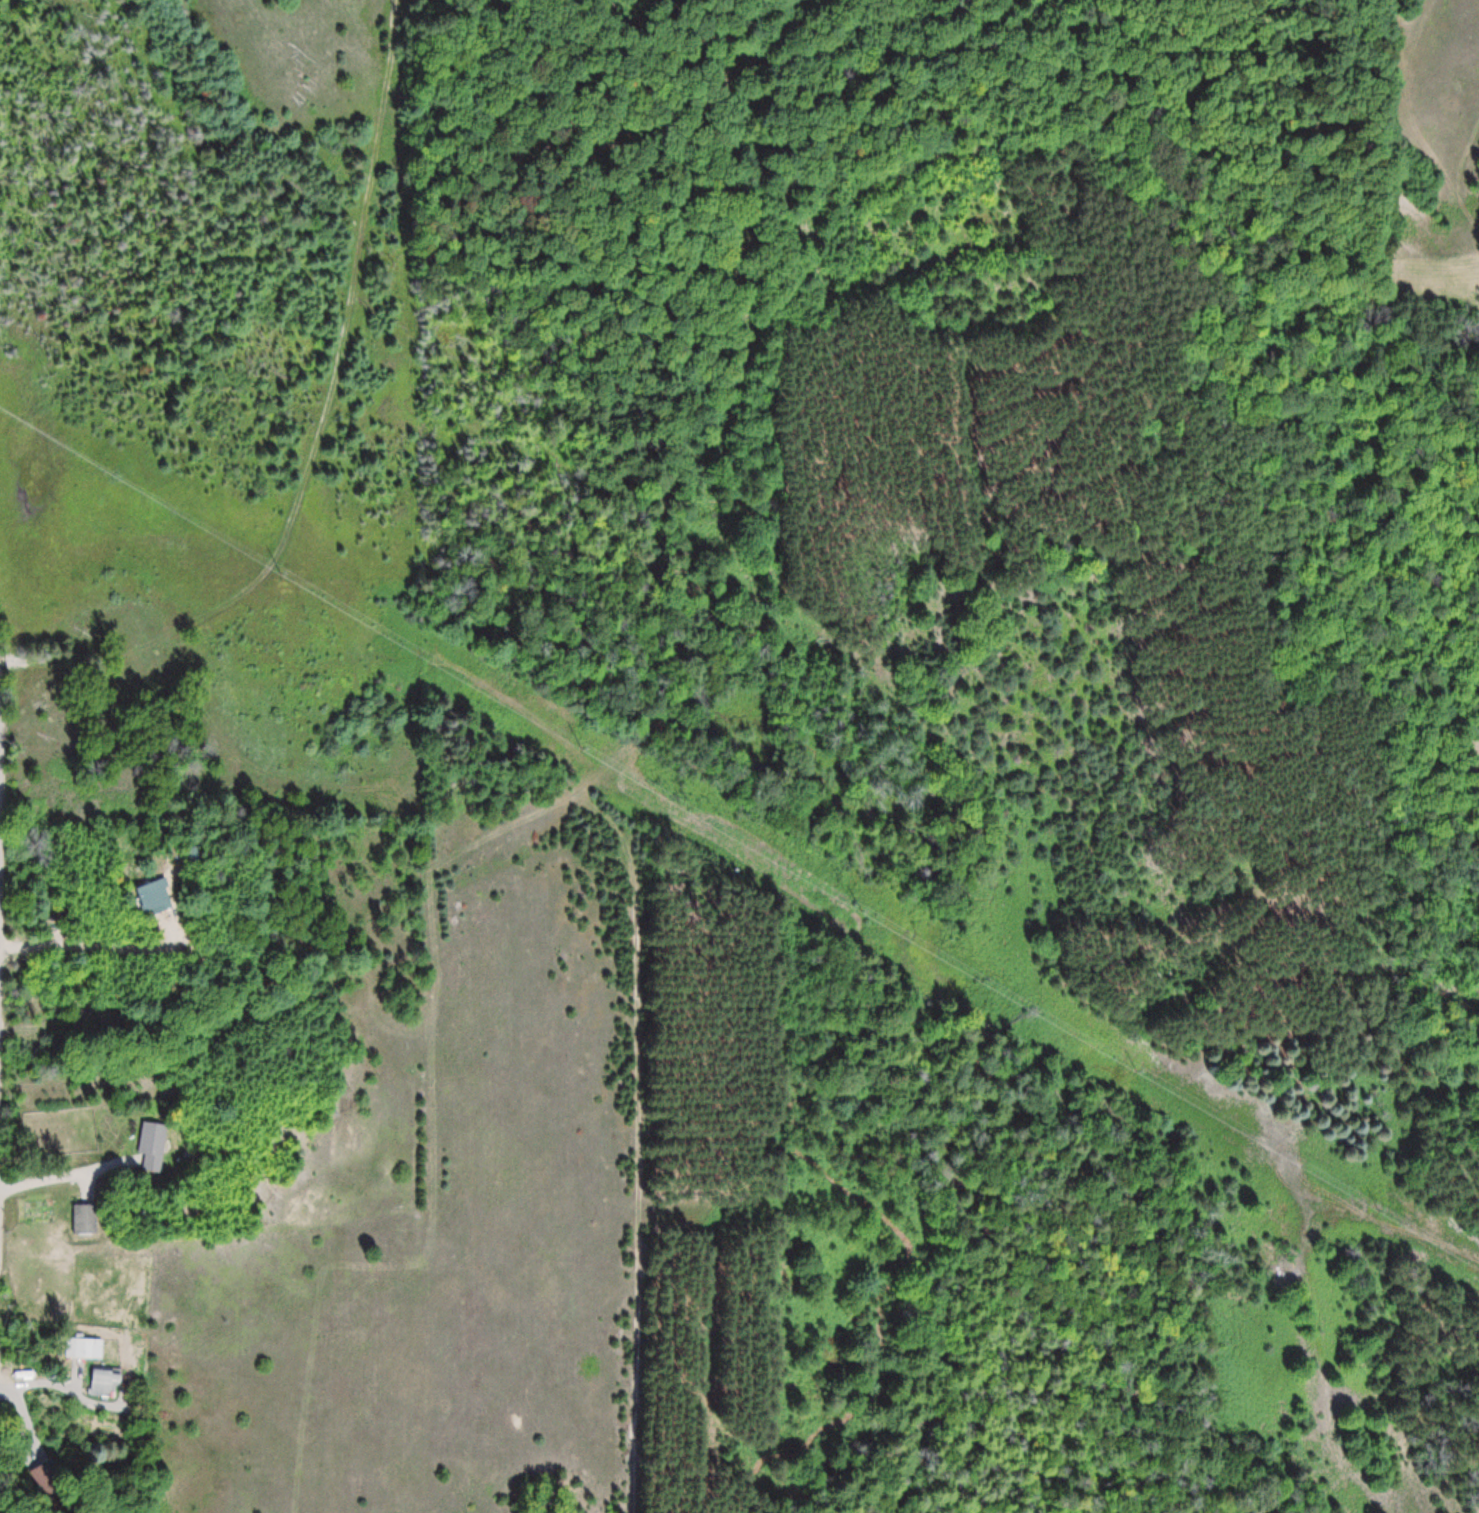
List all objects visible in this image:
building: (152, 1147)
building: (85, 1219)
building: (84, 1347)
building: (106, 1379)

